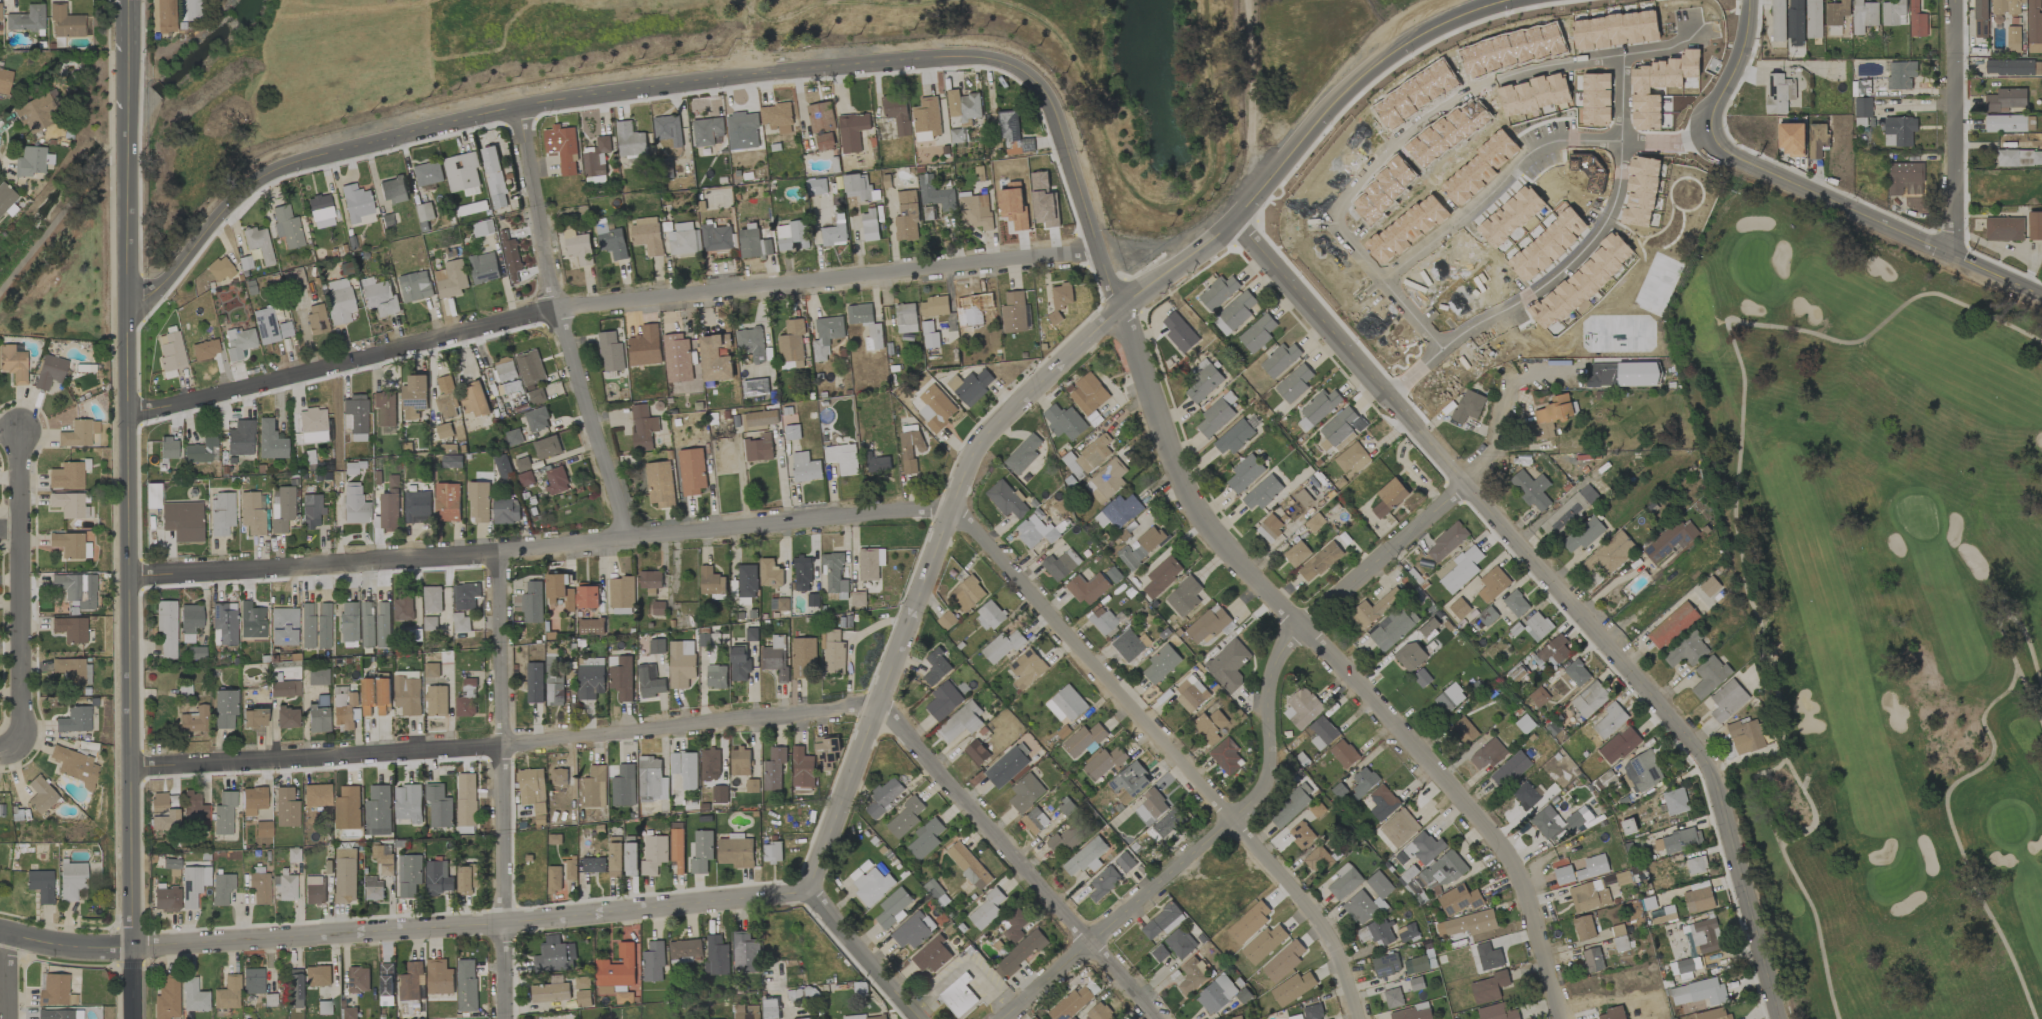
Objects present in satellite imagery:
building: (219, 0)
building: (2007, 7)
building: (188, 9)
building: (1836, 12)
building: (1894, 13)
building: (161, 15)
building: (1863, 16)
road: (129, 17)
building: (25, 18)
building: (1813, 18)
building: (1980, 18)
building: (1777, 20)
building: (1795, 20)
building: (1916, 20)
building: (64, 21)
building: (2034, 27)
building: (1614, 30)
road: (749, 37)
building: (2013, 39)
building: (2012, 67)
road: (1733, 70)
building: (1901, 75)
building: (4, 80)
road: (128, 80)
building: (1862, 87)
building: (1534, 94)
building: (1776, 94)
road: (1620, 98)
road: (1247, 99)
road: (1456, 99)
building: (2005, 100)
building: (964, 106)
building: (1862, 109)
building: (897, 112)
building: (32, 114)
building: (776, 117)
building: (820, 117)
building: (926, 119)
building: (2005, 123)
road: (1061, 126)
building: (741, 128)
road: (1954, 128)
building: (668, 130)
building: (706, 131)
building: (852, 131)
building: (1899, 131)
building: (1012, 132)
building: (1791, 139)
building: (629, 140)
building: (1817, 140)
building: (824, 141)
building: (597, 158)
building: (2019, 158)
building: (1589, 171)
building: (428, 173)
building: (462, 174)
building: (494, 177)
building: (1905, 179)
building: (816, 187)
building: (857, 187)
building: (393, 190)
building: (1641, 191)
building: (935, 194)
building: (5, 196)
building: (1044, 201)
building: (356, 204)
building: (1013, 206)
building: (320, 210)
building: (975, 211)
building: (425, 212)
road: (58, 214)
building: (906, 216)
building: (1510, 216)
road: (1459, 219)
road: (1873, 219)
building: (869, 225)
building: (2035, 225)
building: (286, 226)
building: (482, 228)
building: (2004, 229)
road: (1594, 235)
building: (647, 236)
building: (792, 236)
building: (716, 237)
building: (682, 239)
building: (611, 241)
building: (258, 243)
building: (753, 244)
building: (1547, 245)
building: (578, 247)
park: (60, 248)
building: (510, 257)
building: (219, 268)
building: (483, 268)
building: (451, 279)
building: (1582, 281)
building: (414, 286)
building: (1218, 292)
building: (378, 296)
building: (338, 300)
building: (1060, 300)
road: (609, 305)
building: (934, 306)
building: (1014, 312)
building: (1234, 313)
building: (971, 314)
building: (906, 318)
building: (315, 319)
building: (269, 326)
road: (562, 328)
building: (874, 330)
building: (1179, 333)
building: (1258, 333)
building: (930, 335)
building: (826, 336)
building: (238, 342)
building: (750, 343)
building: (791, 345)
building: (645, 346)
building: (204, 349)
building: (170, 351)
building: (610, 352)
building: (677, 358)
building: (715, 358)
building: (1280, 360)
building: (13, 363)
building: (530, 367)
building: (48, 371)
building: (506, 371)
road: (1415, 372)
building: (1603, 373)
building: (1638, 374)
building: (1203, 381)
building: (1294, 384)
building: (970, 386)
building: (755, 387)
building: (1088, 394)
building: (414, 397)
building: (536, 397)
building: (446, 398)
building: (475, 400)
building: (1468, 406)
building: (385, 408)
building: (935, 408)
building: (1319, 408)
building: (1216, 415)
building: (354, 416)
building: (1552, 416)
building: (759, 418)
building: (537, 419)
building: (1064, 422)
building: (312, 425)
building: (1342, 426)
building: (642, 428)
building: (792, 432)
building: (78, 433)
building: (240, 437)
building: (514, 437)
building: (1234, 437)
building: (269, 440)
building: (167, 447)
building: (547, 447)
building: (758, 448)
building: (200, 450)
building: (910, 450)
building: (1023, 454)
building: (1090, 457)
building: (842, 458)
building: (1352, 458)
building: (876, 463)
building: (522, 464)
building: (501, 465)
building: (805, 467)
building: (692, 471)
building: (1244, 473)
building: (65, 475)
building: (524, 479)
building: (557, 481)
building: (1106, 481)
building: (660, 484)
building: (1531, 490)
building: (1262, 493)
building: (152, 495)
building: (1389, 498)
building: (1006, 500)
building: (447, 502)
building: (479, 502)
building: (69, 504)
building: (353, 505)
building: (280, 507)
building: (417, 507)
building: (309, 510)
building: (389, 511)
building: (506, 511)
building: (1568, 511)
building: (1119, 512)
building: (221, 513)
building: (250, 513)
road: (869, 515)
building: (182, 520)
building: (1270, 528)
road: (8, 529)
building: (1031, 530)
building: (1583, 534)
road: (129, 537)
building: (1669, 540)
building: (1446, 542)
building: (67, 544)
building: (1141, 547)
building: (1297, 554)
building: (1611, 554)
building: (1319, 562)
building: (870, 563)
building: (1061, 565)
building: (1462, 569)
building: (802, 573)
building: (770, 574)
building: (1161, 577)
building: (747, 580)
building: (650, 581)
building: (711, 581)
road: (1615, 581)
building: (1493, 584)
building: (1709, 586)
building: (76, 588)
building: (1088, 588)
road: (17, 589)
road: (1560, 589)
building: (560, 590)
building: (621, 592)
building: (967, 594)
building: (587, 595)
building: (465, 596)
building: (1183, 596)
building: (432, 599)
building: (856, 599)
building: (532, 603)
building: (1516, 604)
park: (1880, 604)
building: (1374, 608)
building: (1459, 608)
building: (403, 609)
building: (989, 616)
building: (251, 620)
building: (1105, 620)
building: (189, 621)
building: (946, 621)
building: (223, 623)
building: (429, 623)
building: (461, 623)
building: (1209, 623)
building: (323, 624)
building: (348, 624)
building: (367, 624)
building: (283, 625)
building: (307, 625)
building: (383, 625)
building: (1672, 625)
building: (166, 627)
building: (591, 627)
building: (1537, 627)
building: (70, 628)
building: (1392, 628)
building: (751, 634)
building: (1130, 645)
building: (656, 646)
building: (1003, 646)
building: (1552, 650)
building: (1687, 651)
building: (195, 652)
building: (833, 653)
building: (1410, 656)
building: (775, 657)
building: (803, 658)
building: (590, 661)
building: (681, 663)
building: (739, 663)
building: (1161, 664)
building: (1228, 666)
road: (1277, 667)
building: (936, 668)
road: (892, 669)
building: (1026, 669)
building: (72, 670)
building: (431, 670)
building: (1577, 673)
building: (316, 676)
building: (716, 676)
building: (1709, 676)
building: (621, 677)
building: (1421, 678)
building: (554, 680)
building: (650, 681)
building: (590, 682)
building: (534, 683)
building: (283, 688)
building: (1191, 693)
building: (368, 695)
building: (408, 695)
building: (383, 696)
building: (1539, 696)
building: (1449, 698)
building: (1590, 699)
building: (436, 701)
building: (466, 701)
building: (944, 701)
building: (1727, 701)
building: (1066, 704)
building: (344, 707)
building: (224, 708)
building: (1302, 708)
building: (317, 714)
building: (286, 717)
building: (252, 718)
building: (73, 719)
building: (193, 719)
road: (715, 720)
building: (1610, 720)
building: (961, 722)
building: (1525, 724)
building: (1210, 725)
building: (1464, 731)
building: (1322, 733)
building: (1745, 736)
building: (1083, 739)
building: (1619, 745)
road: (9, 748)
building: (827, 752)
building: (977, 752)
building: (1344, 754)
building: (1488, 754)
building: (1226, 756)
building: (740, 762)
building: (1103, 763)
building: (710, 764)
building: (75, 766)
building: (1007, 766)
building: (685, 768)
building: (773, 768)
building: (802, 768)
building: (1510, 769)
building: (1643, 771)
building: (559, 777)
building: (652, 780)
building: (1131, 780)
building: (1363, 782)
road: (502, 785)
building: (623, 786)
building: (595, 787)
building: (533, 793)
building: (1026, 793)
building: (40, 794)
building: (719, 794)
building: (316, 795)
building: (1526, 796)
building: (884, 797)
building: (252, 799)
building: (466, 799)
building: (1675, 801)
building: (408, 803)
building: (1383, 803)
building: (439, 806)
building: (1151, 806)
building: (1290, 806)
building: (193, 807)
building: (284, 807)
building: (348, 808)
building: (378, 811)
building: (161, 812)
building: (223, 812)
building: (905, 817)
building: (1579, 819)
building: (1035, 820)
building: (1547, 822)
building: (1169, 823)
building: (1628, 826)
building: (262, 828)
building: (1399, 828)
building: (1301, 835)
building: (925, 838)
building: (1064, 840)
building: (1679, 840)
building: (676, 846)
building: (1426, 847)
building: (702, 851)
building: (735, 852)
building: (771, 852)
building: (653, 855)
building: (615, 857)
building: (1086, 857)
building: (383, 859)
building: (630, 859)
building: (1318, 860)
building: (1125, 862)
building: (170, 863)
building: (593, 865)
building: (968, 865)
building: (1696, 865)
building: (1593, 867)
building: (1441, 872)
building: (345, 875)
building: (408, 875)
building: (1564, 875)
building: (437, 878)
building: (556, 878)
building: (71, 879)
building: (467, 879)
building: (1344, 881)
building: (1104, 883)
building: (192, 884)
building: (40, 885)
building: (1379, 885)
building: (259, 887)
building: (284, 887)
building: (220, 888)
building: (314, 889)
building: (372, 889)
building: (1589, 895)
building: (1698, 898)
building: (165, 899)
building: (1459, 900)
building: (1360, 908)
building: (892, 909)
building: (987, 909)
building: (1162, 921)
building: (1249, 922)
building: (1471, 923)
building: (1014, 925)
building: (1583, 928)
building: (913, 930)
building: (1375, 933)
building: (1407, 933)
building: (1705, 936)
building: (1180, 943)
building: (1263, 944)
road: (66, 945)
building: (684, 951)
building: (745, 952)
building: (1159, 953)
building: (555, 954)
building: (1019, 954)
road: (865, 955)
building: (931, 955)
building: (716, 956)
building: (1489, 957)
building: (1593, 960)
building: (1284, 961)
building: (653, 962)
building: (1422, 964)
building: (1386, 965)
building: (617, 968)
building: (1685, 968)
building: (317, 975)
building: (1191, 975)
road: (8, 977)
building: (439, 977)
building: (252, 980)
building: (358, 980)
building: (386, 980)
building: (410, 981)
road: (134, 984)
building: (466, 985)
building: (293, 987)
building: (1489, 987)
building: (1292, 988)
building: (55, 990)
building: (227, 992)
building: (550, 992)
building: (1698, 992)
building: (618, 993)
building: (1216, 994)
building: (192, 995)
building: (958, 996)
building: (166, 997)
building: (583, 998)
building: (1393, 998)
building: (1071, 1003)
building: (770, 1008)
building: (746, 1011)
building: (1098, 1012)
building: (1312, 1012)
building: (1413, 1012)
building: (1497, 1012)
building: (349, 1013)
building: (1613, 1013)
building: (58, 1014)
building: (1713, 1014)
building: (868, 1017)
building: (1237, 1017)
building: (805, 1018)

